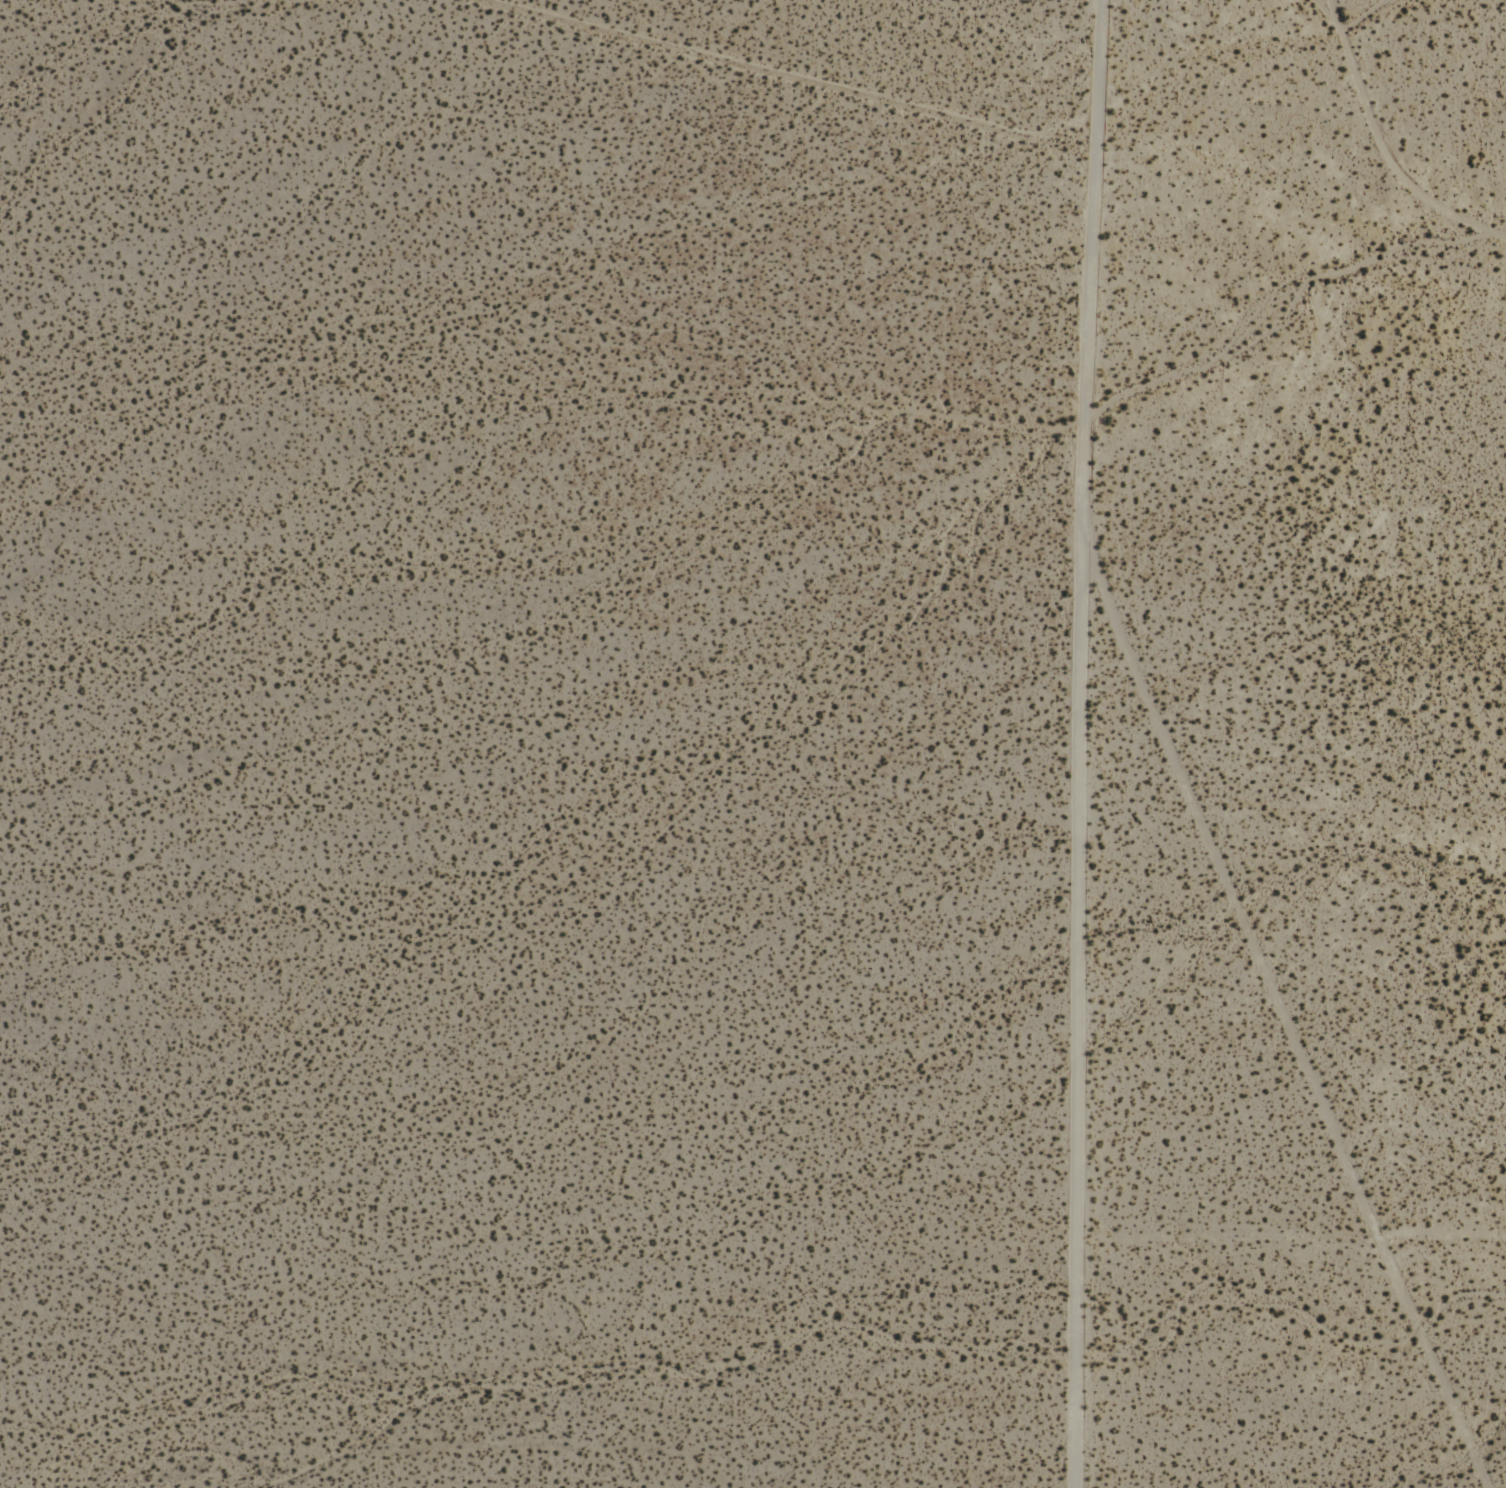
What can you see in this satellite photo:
road: (1388, 142)
road: (1087, 743)
road: (1292, 1247)

